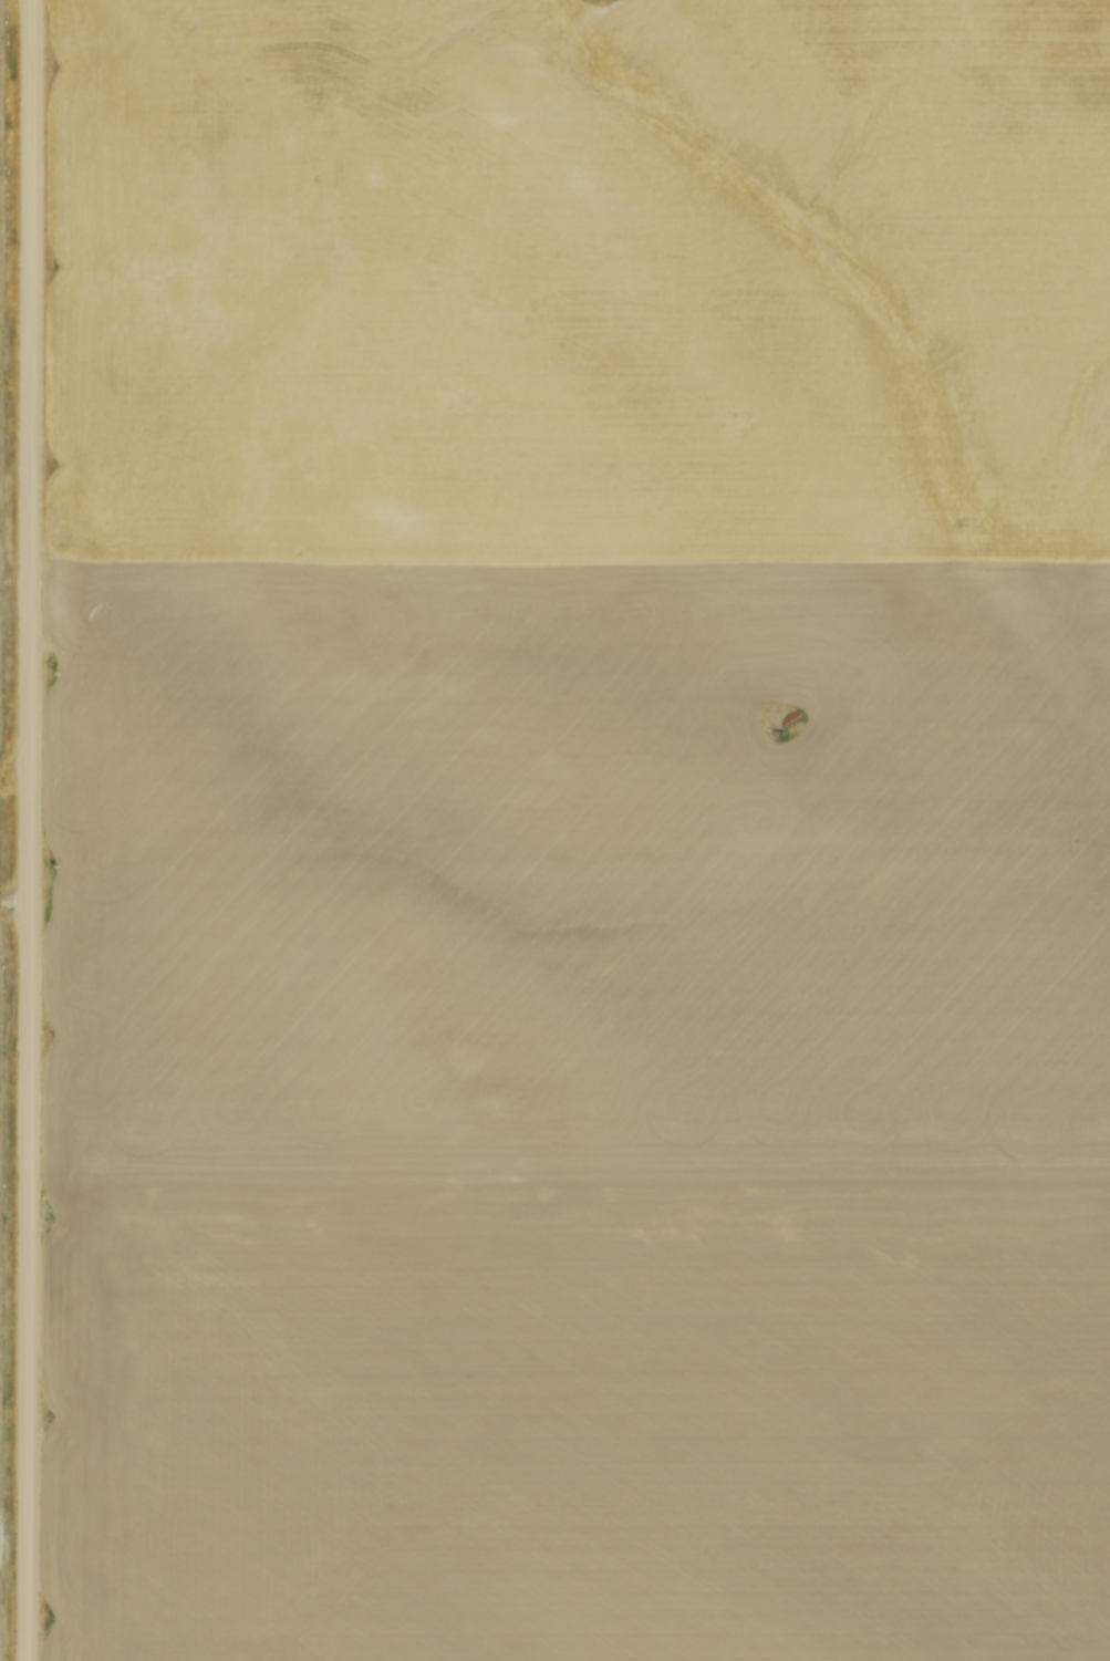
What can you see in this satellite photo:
road: (32, 830)
crop: (582, 830)

